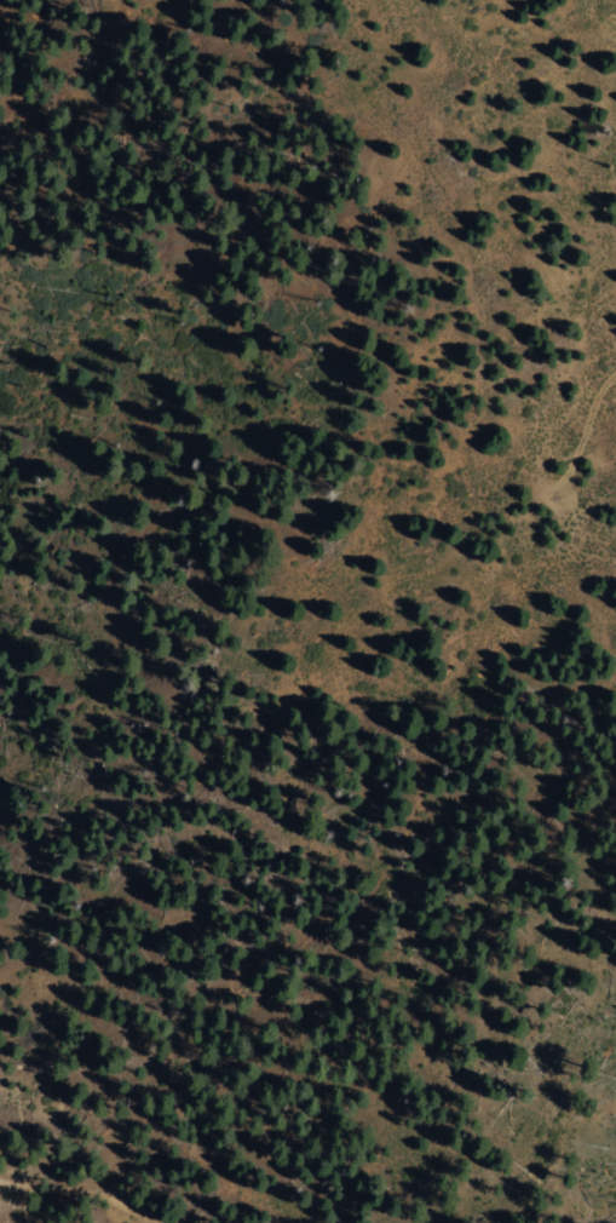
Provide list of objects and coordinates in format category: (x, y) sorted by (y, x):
road: (84, 1188)

